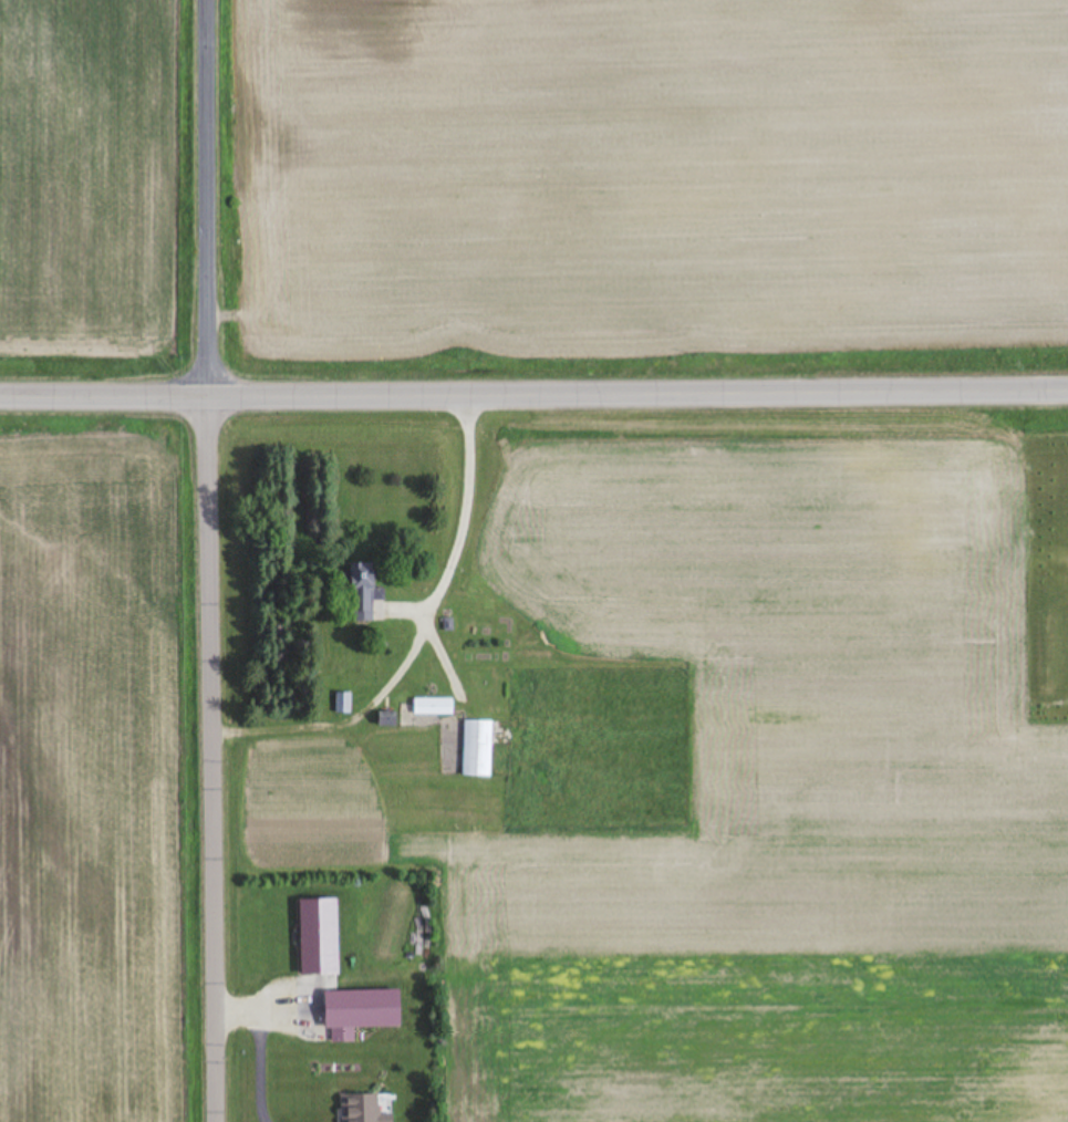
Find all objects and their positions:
crop: (98, 190)
road: (533, 395)
road: (208, 560)
building: (363, 591)
building: (343, 702)
building: (434, 706)
building: (388, 718)
building: (478, 748)
crop: (98, 767)
building: (361, 1010)
road: (263, 1043)
building: (364, 1108)

